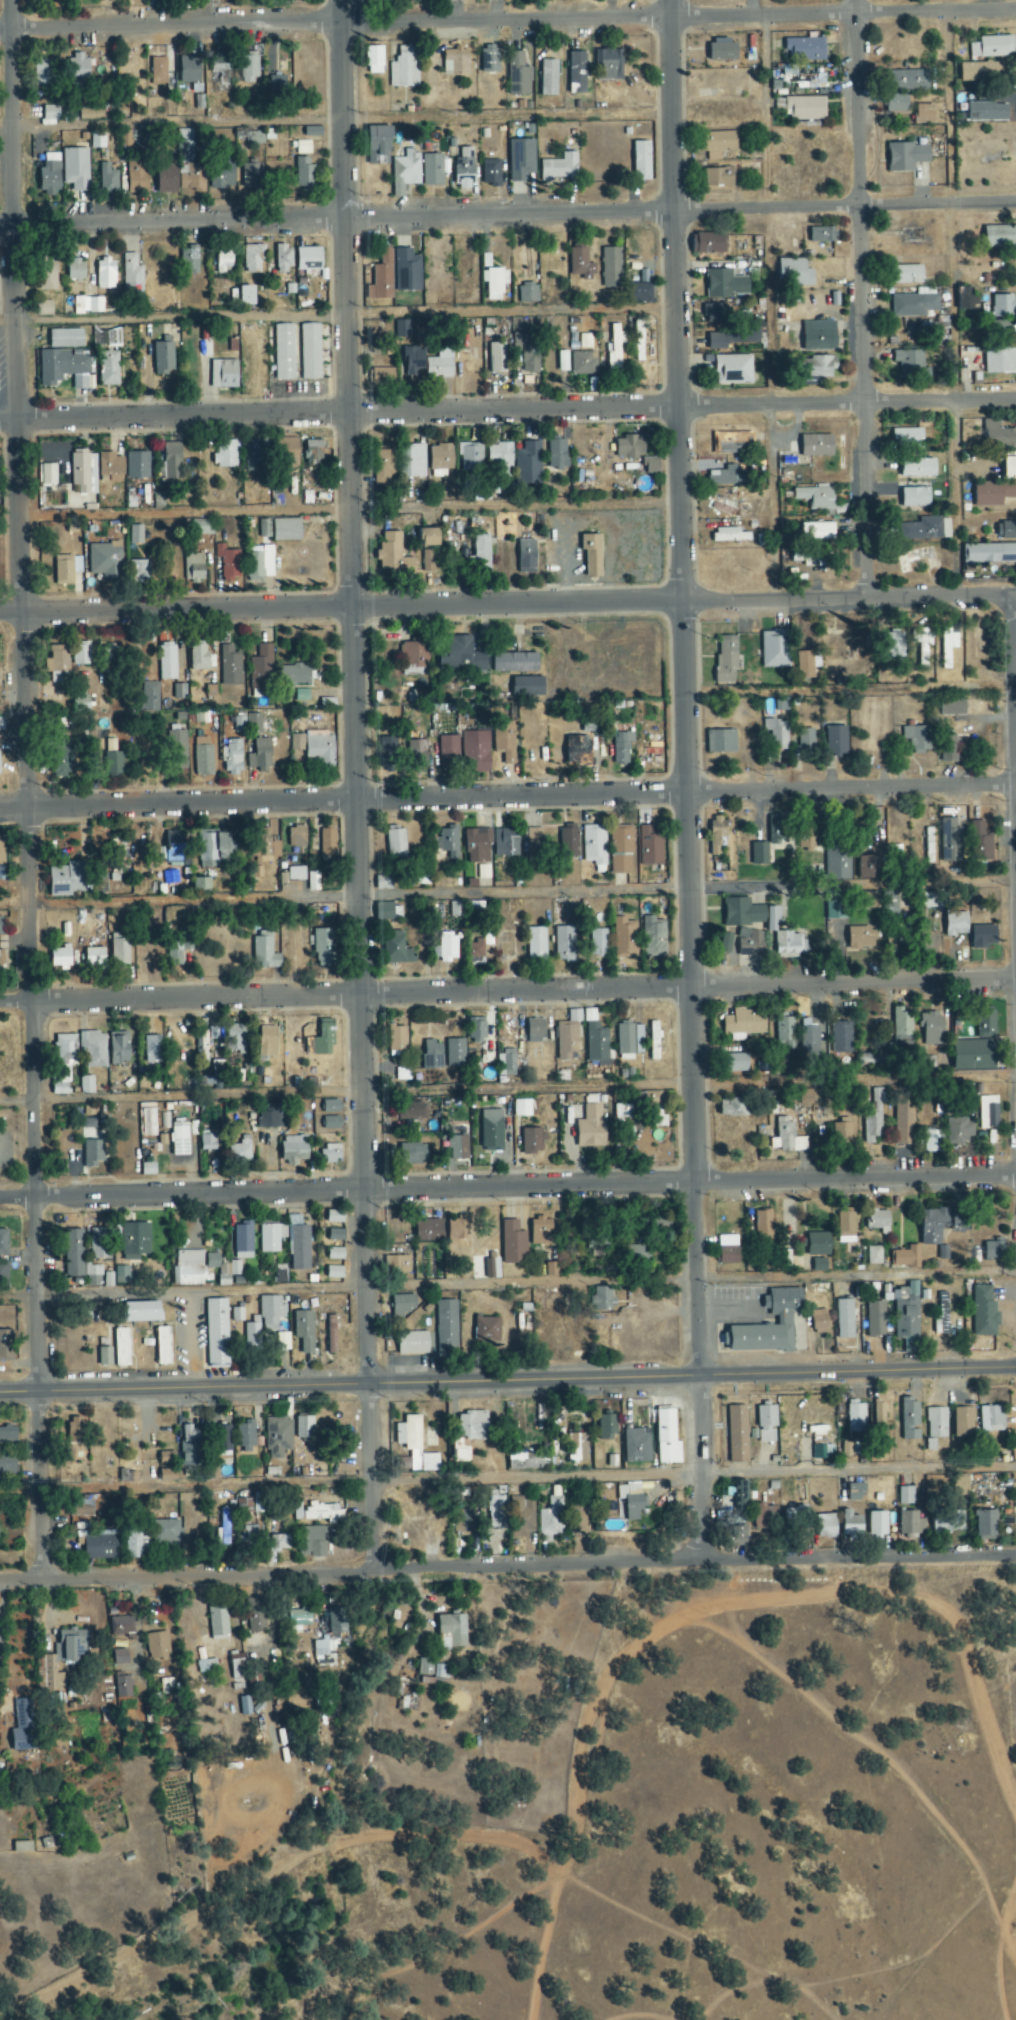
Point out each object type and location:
road: (507, 18)
building: (993, 47)
building: (805, 50)
building: (721, 53)
building: (374, 60)
building: (455, 61)
building: (489, 61)
building: (608, 65)
building: (219, 68)
building: (403, 69)
building: (189, 70)
building: (248, 70)
building: (79, 71)
building: (158, 71)
building: (44, 73)
building: (981, 73)
building: (577, 74)
building: (276, 75)
building: (518, 75)
building: (805, 78)
building: (548, 79)
building: (908, 81)
building: (897, 104)
building: (806, 108)
building: (987, 112)
building: (925, 115)
road: (335, 121)
building: (312, 132)
building: (125, 139)
building: (97, 140)
building: (717, 144)
building: (184, 146)
building: (378, 146)
building: (304, 147)
building: (986, 151)
building: (906, 157)
building: (521, 161)
building: (641, 161)
building: (75, 169)
building: (464, 169)
building: (559, 169)
building: (432, 171)
building: (491, 172)
building: (405, 173)
building: (304, 174)
building: (221, 176)
building: (191, 177)
building: (137, 178)
building: (251, 178)
building: (718, 178)
building: (167, 179)
building: (108, 180)
road: (507, 215)
building: (821, 235)
building: (1000, 237)
building: (709, 244)
building: (253, 259)
building: (283, 259)
building: (189, 260)
building: (224, 262)
building: (310, 263)
building: (580, 264)
building: (611, 268)
building: (75, 271)
building: (407, 271)
building: (46, 273)
building: (463, 274)
building: (105, 275)
building: (907, 275)
building: (131, 278)
building: (381, 278)
building: (494, 283)
building: (725, 285)
building: (638, 293)
building: (526, 294)
building: (247, 297)
road: (952, 297)
road: (861, 298)
road: (767, 299)
building: (966, 299)
road: (343, 303)
building: (88, 306)
building: (913, 306)
building: (1004, 307)
building: (43, 309)
road: (338, 313)
building: (714, 313)
building: (401, 330)
building: (1004, 330)
building: (819, 336)
building: (65, 339)
building: (107, 339)
building: (730, 339)
building: (585, 341)
building: (638, 342)
building: (615, 348)
building: (310, 352)
building: (284, 353)
building: (624, 353)
building: (525, 354)
building: (163, 358)
building: (497, 359)
building: (413, 361)
building: (1000, 361)
building: (584, 364)
building: (910, 365)
building: (439, 368)
building: (814, 368)
building: (63, 369)
building: (108, 369)
building: (732, 370)
building: (223, 375)
building: (382, 375)
road: (507, 407)
building: (992, 434)
building: (1008, 438)
building: (907, 439)
building: (731, 443)
building: (817, 446)
building: (287, 453)
building: (313, 453)
building: (635, 453)
building: (500, 455)
building: (224, 456)
building: (557, 456)
building: (470, 457)
building: (253, 458)
building: (412, 462)
building: (172, 463)
building: (528, 465)
building: (137, 466)
building: (383, 467)
building: (111, 468)
building: (918, 469)
building: (1009, 469)
building: (83, 473)
building: (48, 474)
building: (726, 479)
building: (993, 493)
building: (815, 498)
building: (915, 498)
building: (729, 507)
road: (351, 508)
building: (201, 527)
building: (264, 529)
building: (286, 530)
building: (921, 530)
building: (1006, 531)
building: (816, 532)
building: (136, 535)
building: (730, 536)
building: (429, 538)
building: (482, 551)
building: (991, 554)
building: (394, 556)
building: (592, 557)
building: (527, 558)
building: (816, 558)
building: (104, 562)
building: (427, 562)
building: (259, 563)
building: (227, 564)
building: (193, 568)
building: (66, 570)
building: (139, 572)
road: (682, 600)
road: (174, 611)
building: (894, 645)
building: (922, 645)
building: (948, 647)
building: (775, 649)
building: (81, 653)
building: (414, 654)
building: (463, 655)
building: (200, 657)
building: (57, 659)
building: (726, 659)
building: (167, 661)
building: (515, 662)
building: (805, 664)
building: (230, 665)
building: (262, 669)
building: (293, 675)
building: (527, 686)
road: (851, 690)
building: (179, 691)
building: (149, 697)
building: (79, 702)
building: (952, 707)
road: (12, 709)
building: (1, 724)
building: (247, 724)
building: (777, 734)
building: (917, 738)
building: (837, 739)
building: (504, 741)
building: (720, 741)
building: (805, 741)
building: (296, 742)
building: (177, 743)
building: (621, 747)
building: (319, 749)
building: (948, 749)
building: (448, 751)
building: (477, 751)
building: (577, 751)
building: (388, 754)
building: (417, 754)
building: (259, 755)
building: (202, 756)
building: (113, 758)
building: (232, 758)
building: (64, 759)
road: (1013, 760)
road: (688, 780)
road: (27, 790)
road: (507, 792)
building: (776, 829)
building: (717, 834)
building: (297, 837)
building: (807, 839)
building: (447, 840)
building: (506, 841)
building: (947, 841)
building: (327, 842)
building: (568, 842)
building: (980, 842)
building: (533, 843)
building: (395, 844)
building: (263, 845)
building: (594, 845)
building: (928, 845)
building: (477, 846)
building: (650, 846)
building: (212, 849)
building: (893, 850)
building: (620, 851)
building: (759, 853)
building: (174, 854)
building: (869, 867)
building: (483, 872)
building: (296, 874)
building: (66, 879)
building: (200, 884)
road: (507, 892)
building: (871, 900)
building: (933, 900)
building: (456, 909)
building: (385, 911)
building: (742, 913)
building: (956, 922)
building: (0, 926)
building: (983, 936)
building: (652, 937)
building: (784, 937)
building: (862, 937)
building: (625, 938)
building: (597, 942)
building: (725, 943)
building: (751, 943)
building: (564, 944)
building: (506, 945)
building: (536, 945)
building: (178, 947)
building: (323, 947)
building: (446, 948)
building: (397, 950)
building: (120, 951)
building: (264, 953)
building: (476, 953)
building: (94, 957)
building: (1, 958)
road: (507, 991)
building: (743, 1024)
building: (901, 1026)
building: (932, 1028)
building: (535, 1030)
building: (476, 1031)
building: (785, 1031)
building: (568, 1036)
building: (809, 1038)
building: (841, 1038)
building: (397, 1039)
building: (236, 1040)
building: (321, 1040)
building: (596, 1040)
building: (629, 1041)
building: (654, 1041)
building: (268, 1043)
building: (978, 1046)
building: (118, 1048)
building: (93, 1049)
building: (152, 1049)
building: (454, 1053)
building: (432, 1055)
building: (65, 1056)
building: (506, 1063)
building: (737, 1063)
building: (86, 1085)
road: (507, 1086)
road: (361, 1091)
building: (805, 1097)
building: (330, 1105)
building: (735, 1106)
building: (522, 1108)
building: (653, 1109)
building: (412, 1111)
building: (987, 1112)
building: (271, 1117)
building: (330, 1123)
building: (871, 1127)
building: (591, 1128)
building: (960, 1129)
building: (491, 1130)
building: (842, 1133)
building: (786, 1137)
building: (179, 1139)
building: (207, 1141)
building: (532, 1141)
building: (932, 1141)
building: (458, 1148)
building: (294, 1150)
building: (241, 1151)
building: (93, 1153)
building: (329, 1153)
building: (413, 1154)
road: (507, 1185)
building: (880, 1221)
building: (763, 1225)
building: (938, 1225)
building: (846, 1227)
building: (457, 1230)
building: (428, 1231)
building: (541, 1232)
building: (270, 1238)
building: (135, 1240)
building: (242, 1241)
building: (3, 1243)
building: (513, 1243)
building: (99, 1244)
building: (817, 1244)
building: (297, 1245)
building: (994, 1250)
building: (729, 1251)
building: (74, 1252)
building: (636, 1252)
building: (874, 1255)
building: (907, 1258)
building: (212, 1261)
building: (398, 1264)
building: (188, 1269)
building: (491, 1269)
building: (551, 1269)
building: (92, 1271)
building: (3, 1273)
road: (507, 1282)
building: (602, 1299)
building: (403, 1305)
building: (84, 1312)
building: (141, 1312)
building: (984, 1312)
building: (271, 1315)
building: (907, 1316)
building: (844, 1319)
building: (875, 1319)
building: (784, 1321)
building: (819, 1321)
building: (941, 1323)
building: (446, 1329)
building: (484, 1330)
building: (304, 1331)
building: (217, 1333)
building: (251, 1336)
building: (328, 1338)
building: (412, 1343)
building: (6, 1345)
building: (163, 1346)
building: (121, 1347)
building: (104, 1357)
road: (508, 1381)
building: (878, 1415)
building: (856, 1418)
building: (910, 1419)
building: (992, 1419)
building: (963, 1422)
building: (936, 1423)
building: (766, 1424)
building: (472, 1426)
building: (303, 1428)
building: (606, 1428)
building: (74, 1431)
building: (817, 1432)
building: (245, 1433)
building: (8, 1434)
building: (737, 1434)
building: (278, 1435)
building: (221, 1438)
building: (667, 1438)
building: (415, 1443)
building: (930, 1445)
building: (189, 1446)
building: (638, 1446)
building: (577, 1448)
building: (846, 1449)
building: (459, 1452)
building: (818, 1453)
building: (166, 1458)
building: (526, 1460)
building: (7, 1465)
road: (507, 1475)
building: (960, 1485)
building: (856, 1493)
building: (905, 1496)
building: (739, 1498)
building: (631, 1500)
building: (244, 1505)
building: (495, 1510)
building: (766, 1510)
building: (794, 1510)
building: (297, 1512)
building: (80, 1513)
building: (322, 1513)
building: (551, 1514)
building: (520, 1517)
building: (577, 1518)
building: (948, 1519)
building: (463, 1523)
building: (851, 1524)
building: (877, 1524)
building: (910, 1524)
building: (985, 1524)
building: (826, 1526)
building: (222, 1528)
building: (167, 1532)
building: (249, 1534)
building: (737, 1535)
building: (310, 1542)
building: (280, 1543)
building: (99, 1545)
building: (133, 1545)
road: (507, 1567)
building: (255, 1615)
building: (299, 1619)
building: (218, 1622)
building: (336, 1623)
building: (121, 1626)
building: (451, 1632)
building: (159, 1645)
building: (321, 1649)
building: (120, 1657)
building: (62, 1659)
building: (431, 1670)
building: (123, 1687)
building: (244, 1706)
building: (22, 1726)
building: (22, 1848)

